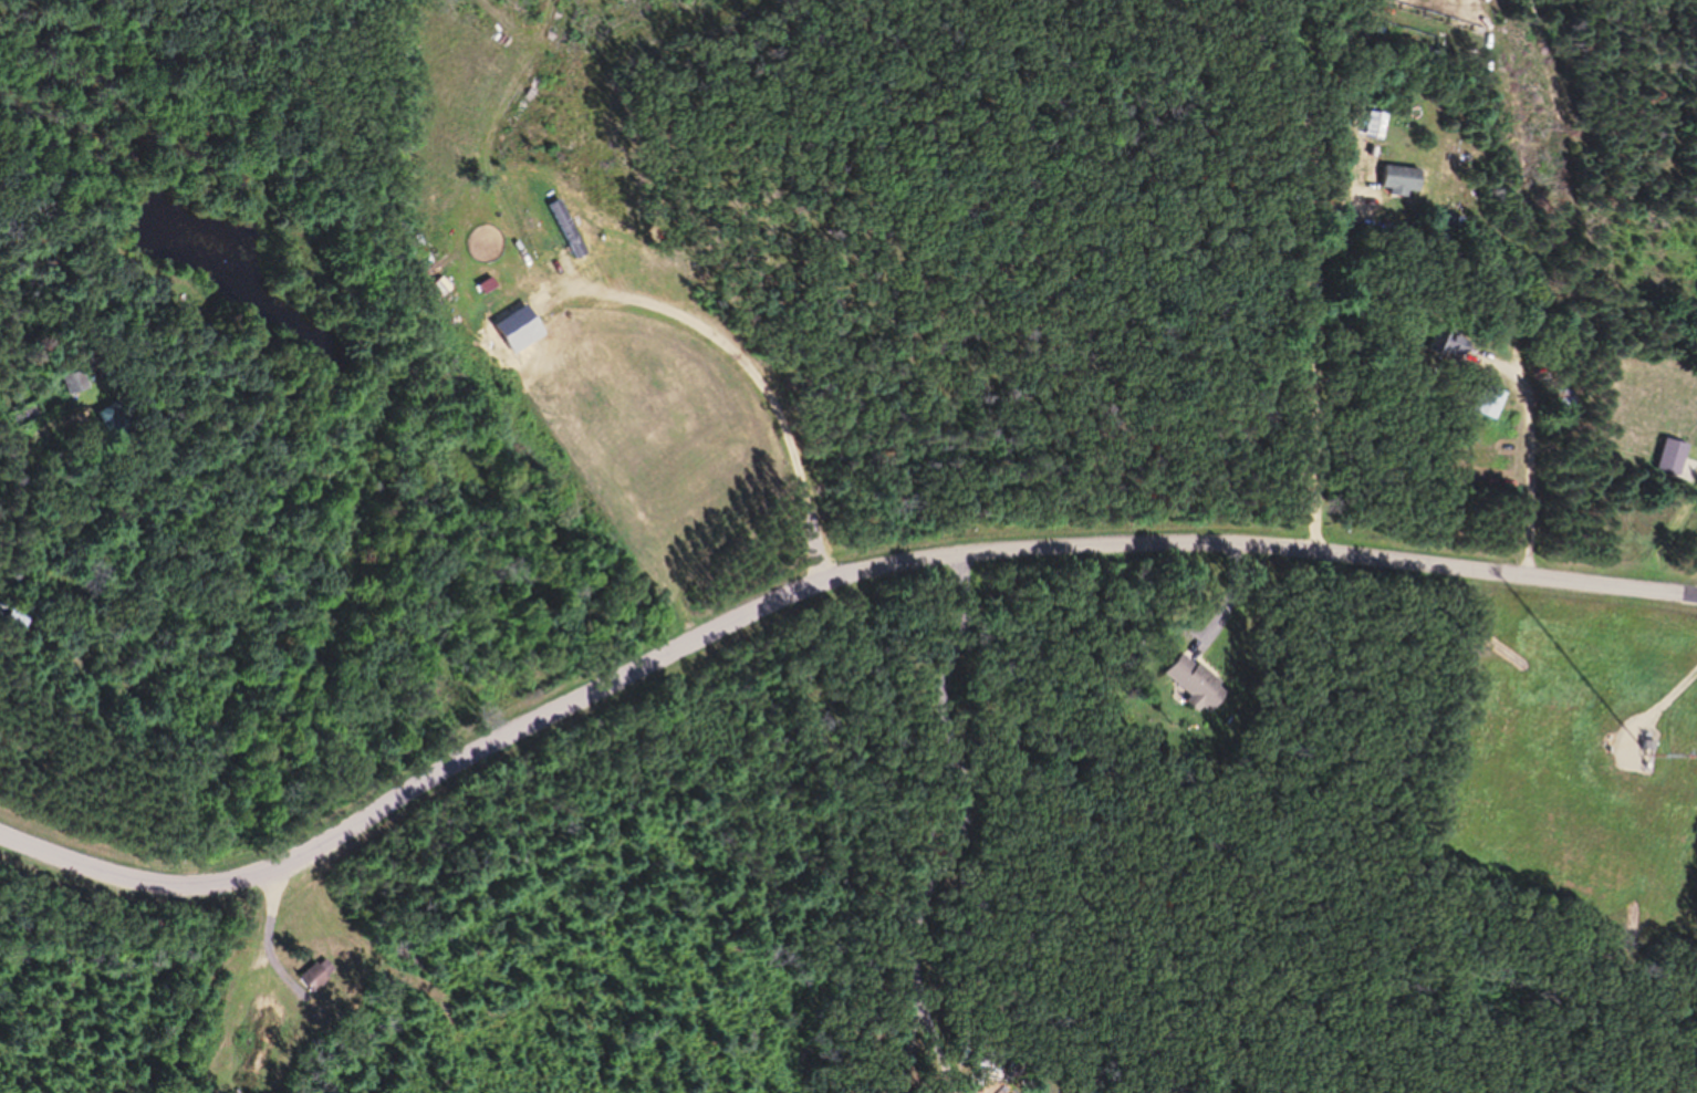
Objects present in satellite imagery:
building: (1406, 181)
building: (1456, 345)
building: (79, 384)
building: (1496, 403)
building: (112, 420)
road: (23, 449)
building: (1677, 458)
road: (1532, 470)
road: (496, 564)
road: (811, 581)
building: (20, 621)
building: (1196, 684)

